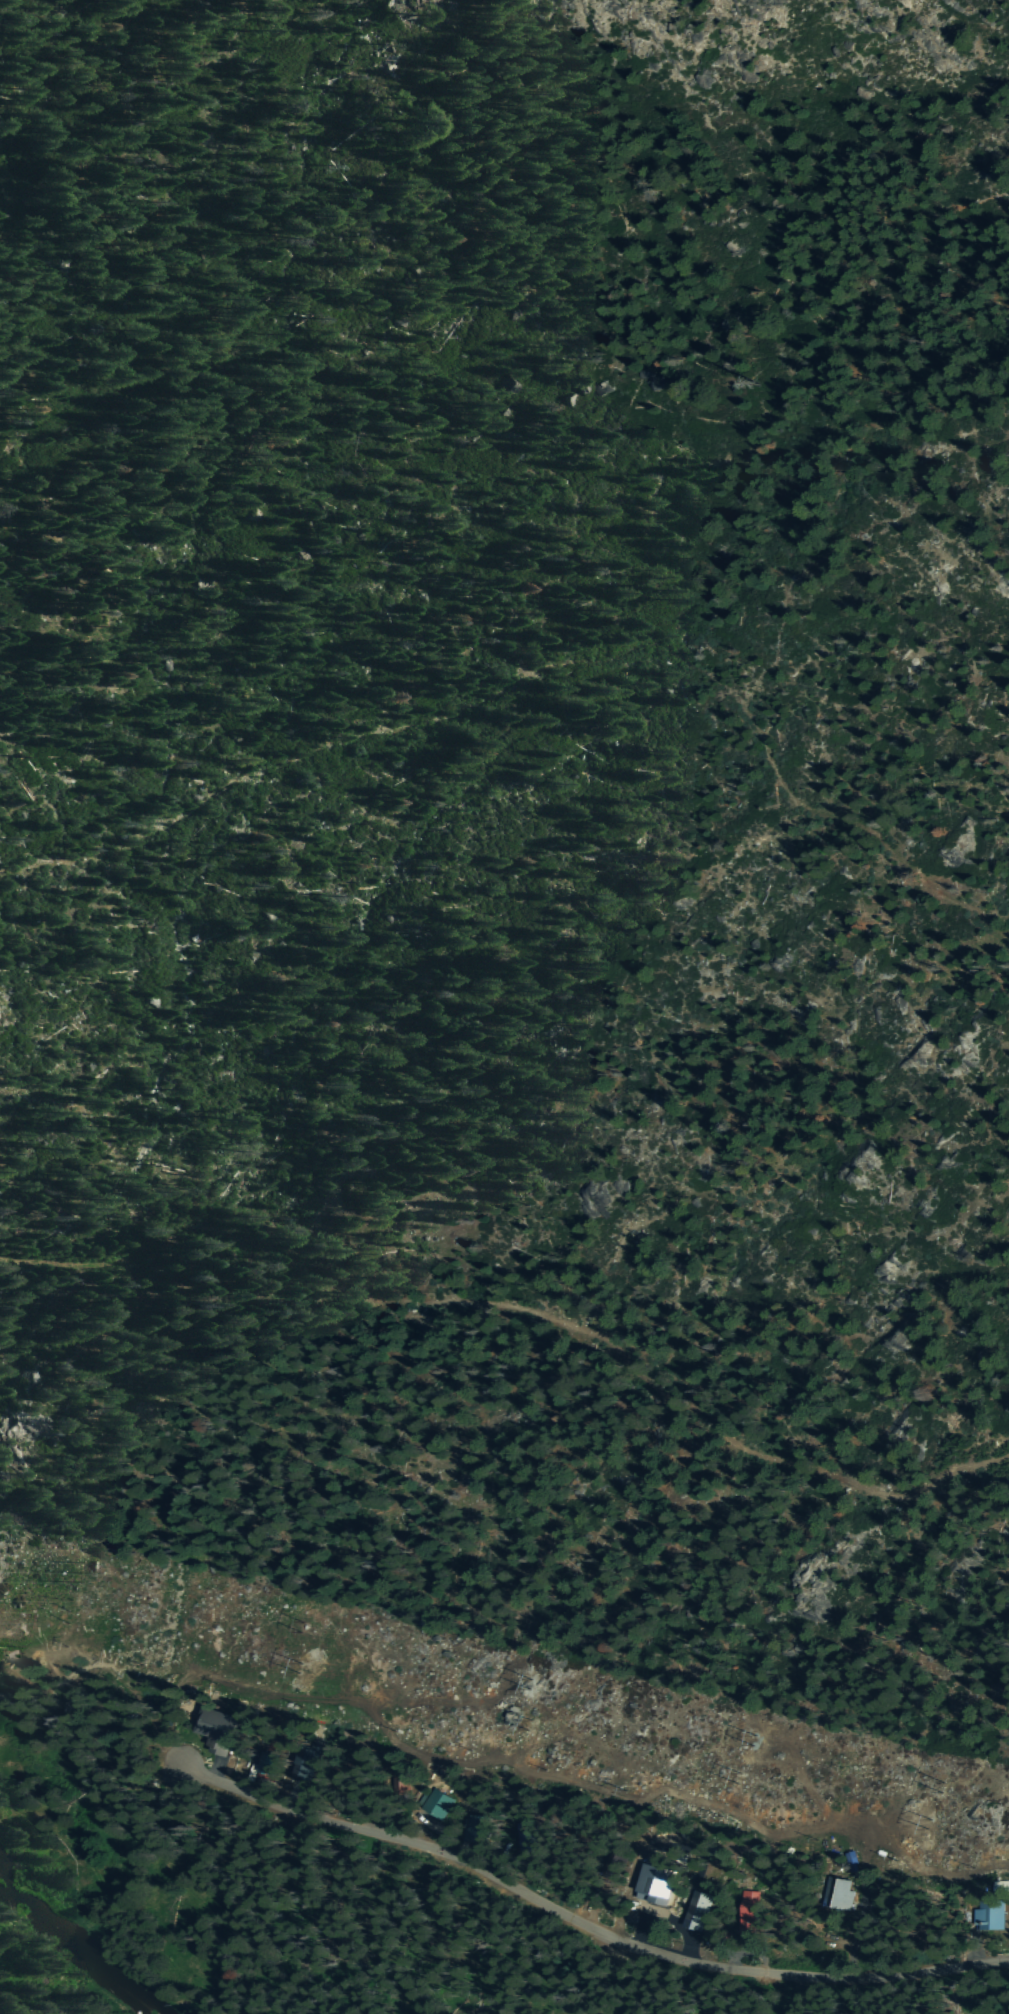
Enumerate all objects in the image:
power tower: (81, 1572)
power tower: (69, 1613)
power tower: (301, 1625)
power tower: (291, 1664)
power tower: (534, 1686)
power tower: (525, 1724)
power tower: (748, 1739)
power tower: (739, 1776)
power tower: (942, 1784)
power tower: (933, 1826)
river: (96, 1867)
building: (998, 1886)
building: (850, 1895)
building: (987, 1916)
road: (582, 1925)

